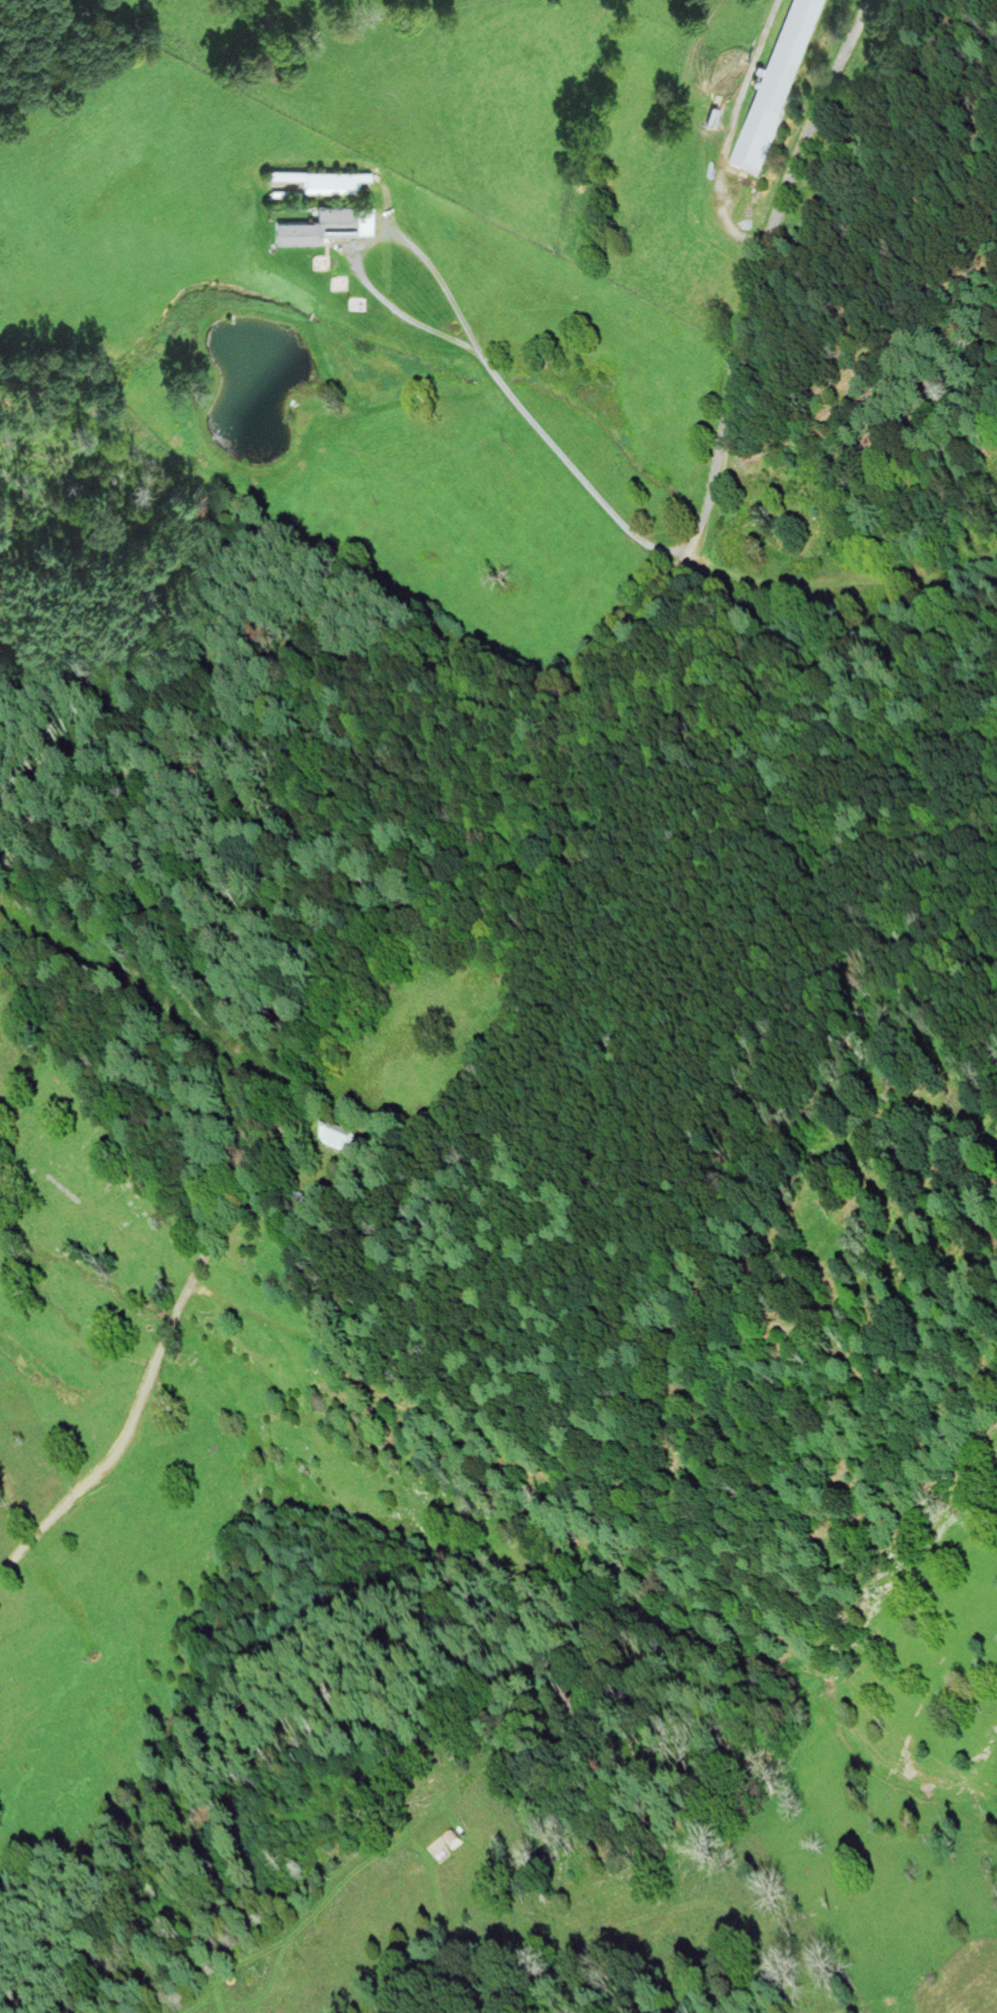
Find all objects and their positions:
building: (827, 0)
building: (777, 83)
road: (726, 132)
building: (321, 181)
building: (328, 223)
road: (469, 328)
road: (503, 822)
building: (339, 1138)
building: (300, 1206)
building: (452, 1838)

